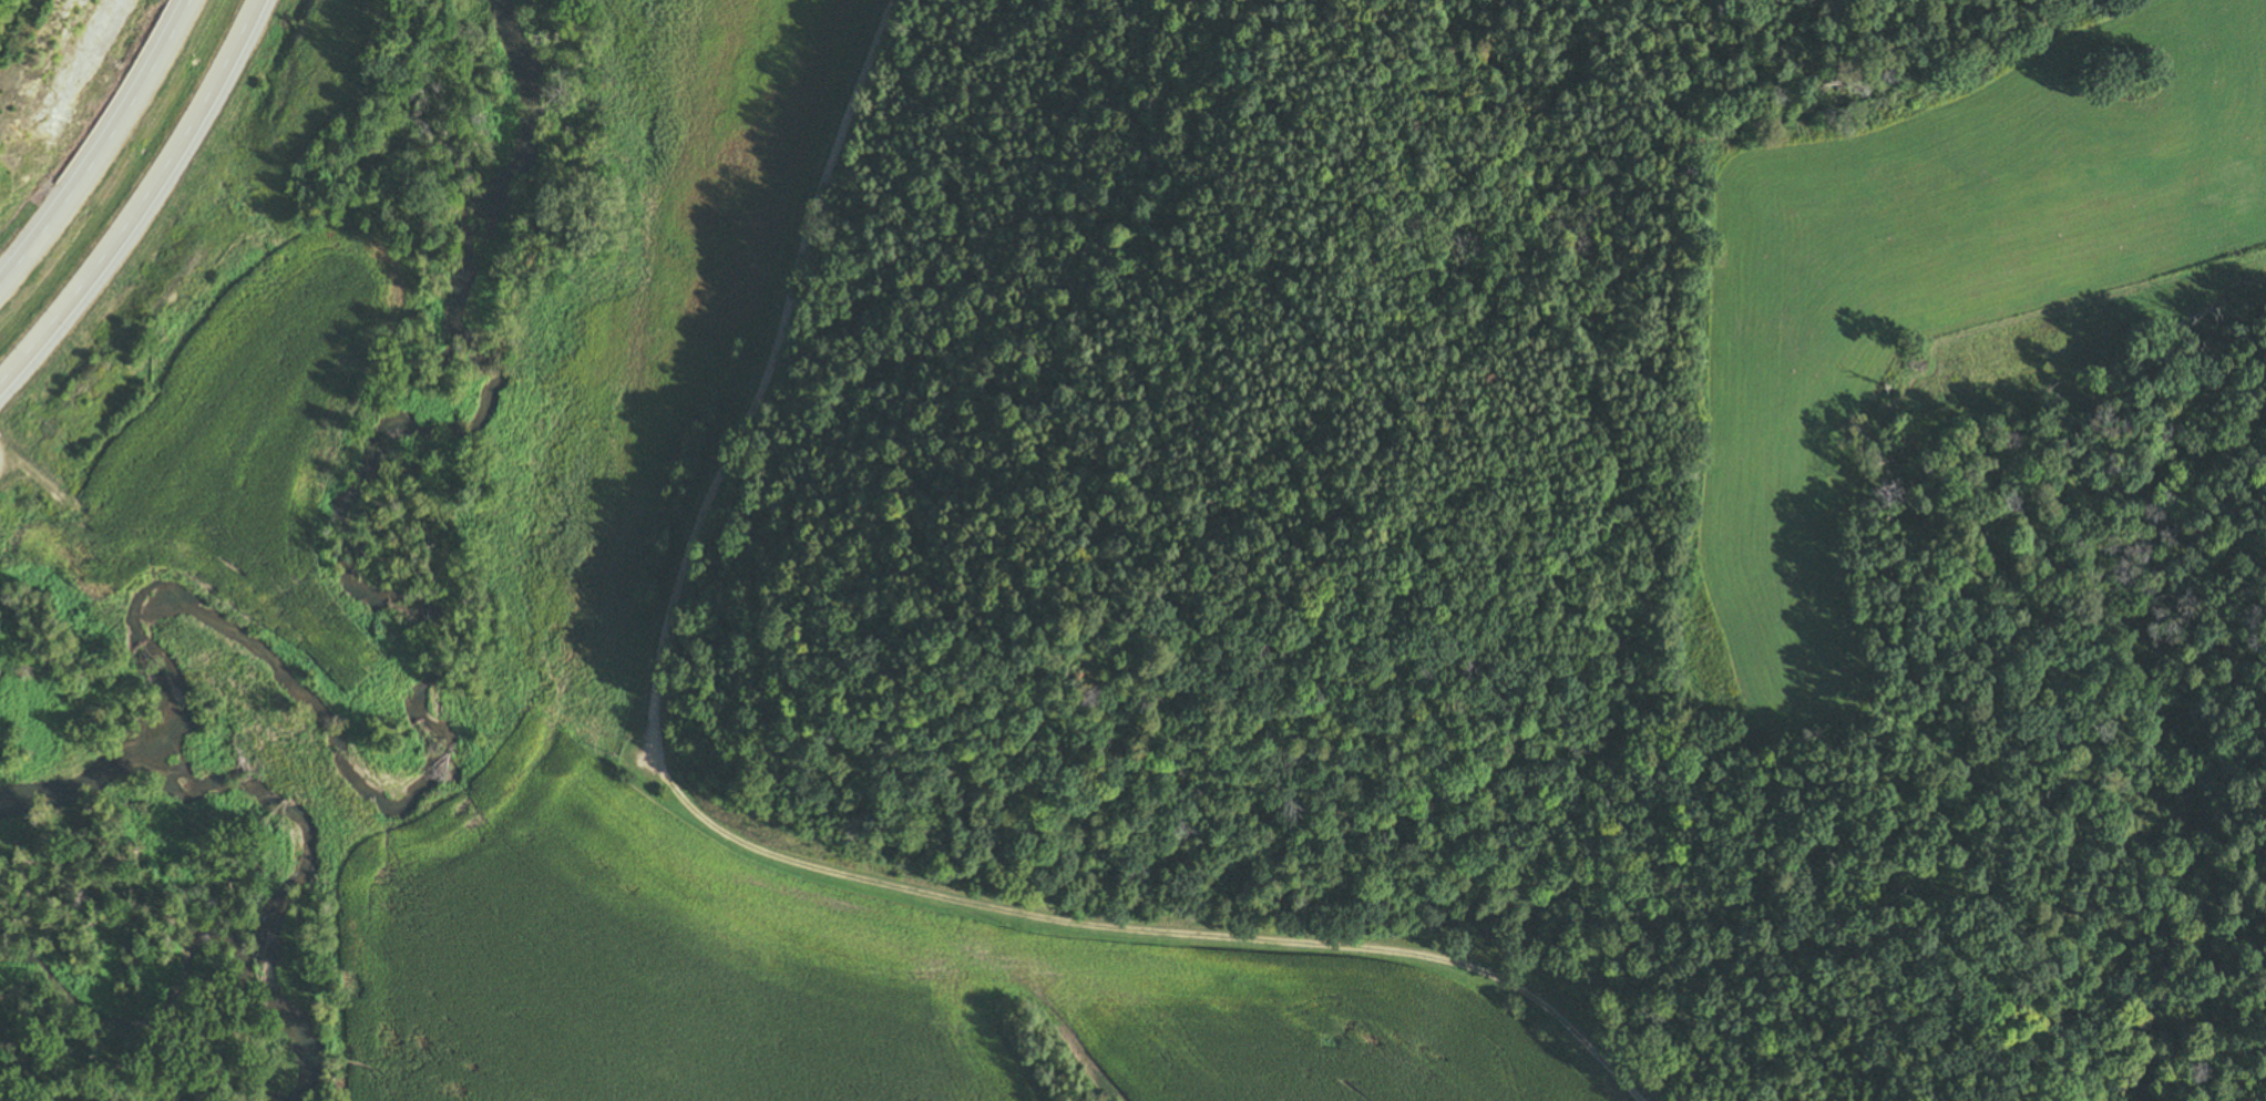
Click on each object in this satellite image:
road: (100, 145)
road: (145, 203)
road: (767, 379)
road: (1156, 934)

